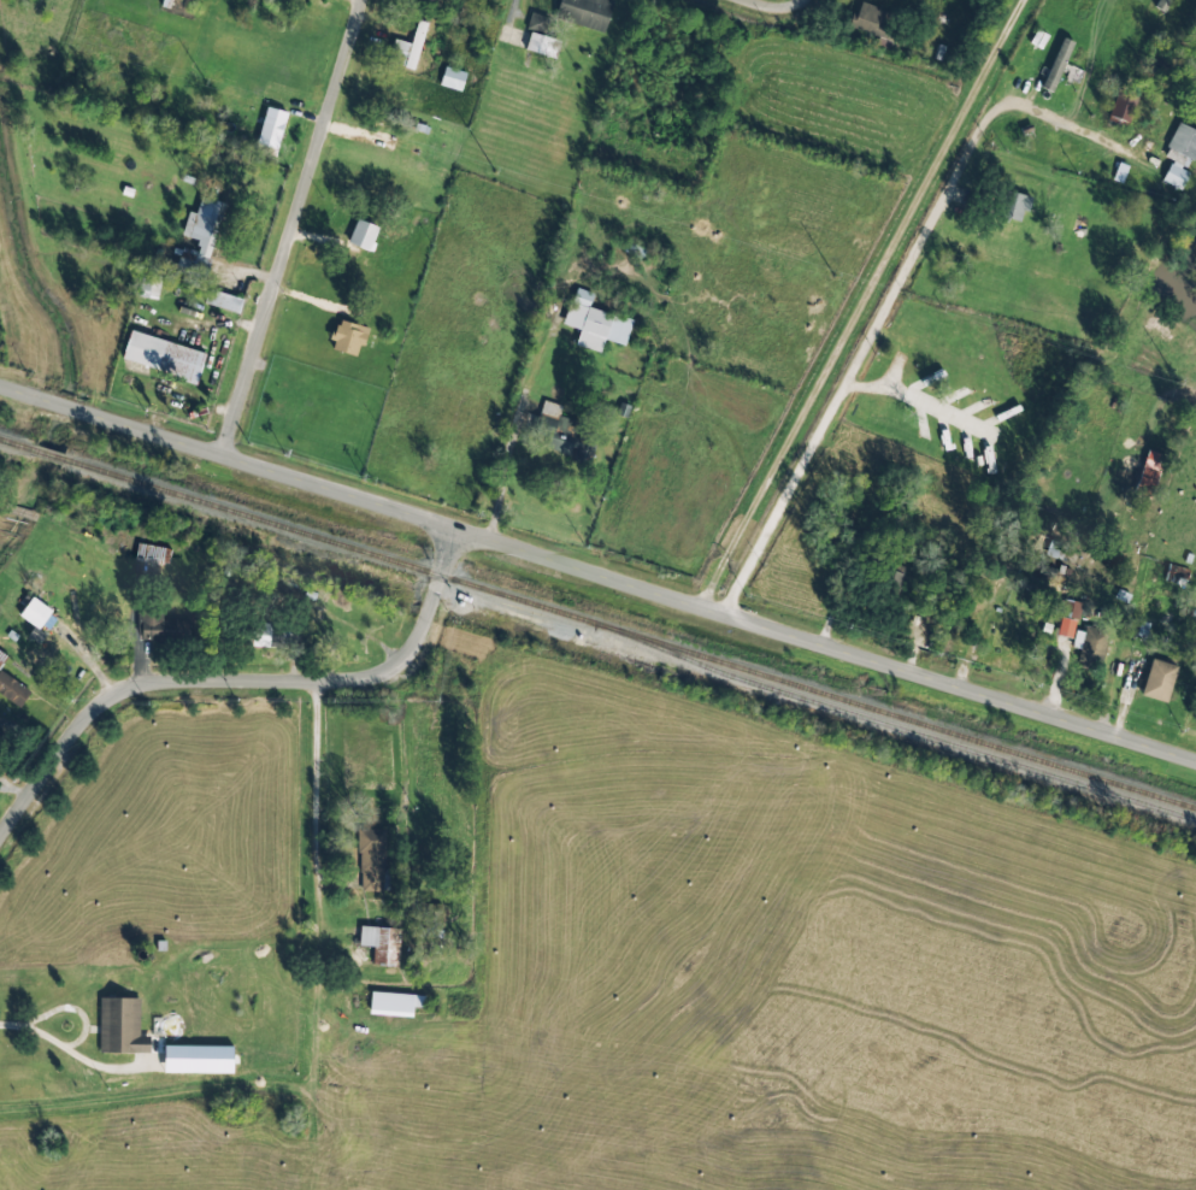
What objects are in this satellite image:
building: (1162, 5)
road: (780, 6)
building: (585, 12)
building: (874, 20)
building: (537, 22)
building: (542, 45)
building: (408, 48)
building: (1057, 64)
building: (453, 78)
building: (1123, 107)
building: (272, 128)
building: (1179, 155)
building: (1013, 205)
road: (294, 225)
building: (363, 235)
building: (200, 237)
building: (149, 285)
road: (897, 289)
building: (223, 301)
building: (595, 323)
building: (349, 337)
building: (164, 357)
building: (558, 429)
building: (1149, 473)
building: (1057, 540)
building: (153, 554)
road: (596, 572)
building: (35, 613)
building: (1068, 618)
railway: (596, 625)
building: (155, 626)
building: (36, 635)
building: (263, 635)
building: (1090, 644)
building: (2, 658)
building: (1159, 681)
road: (241, 685)
building: (12, 689)
railway: (914, 734)
building: (371, 860)
building: (429, 926)
building: (382, 943)
building: (395, 1003)
road: (70, 1007)
building: (122, 1026)
road: (67, 1050)
building: (198, 1059)

